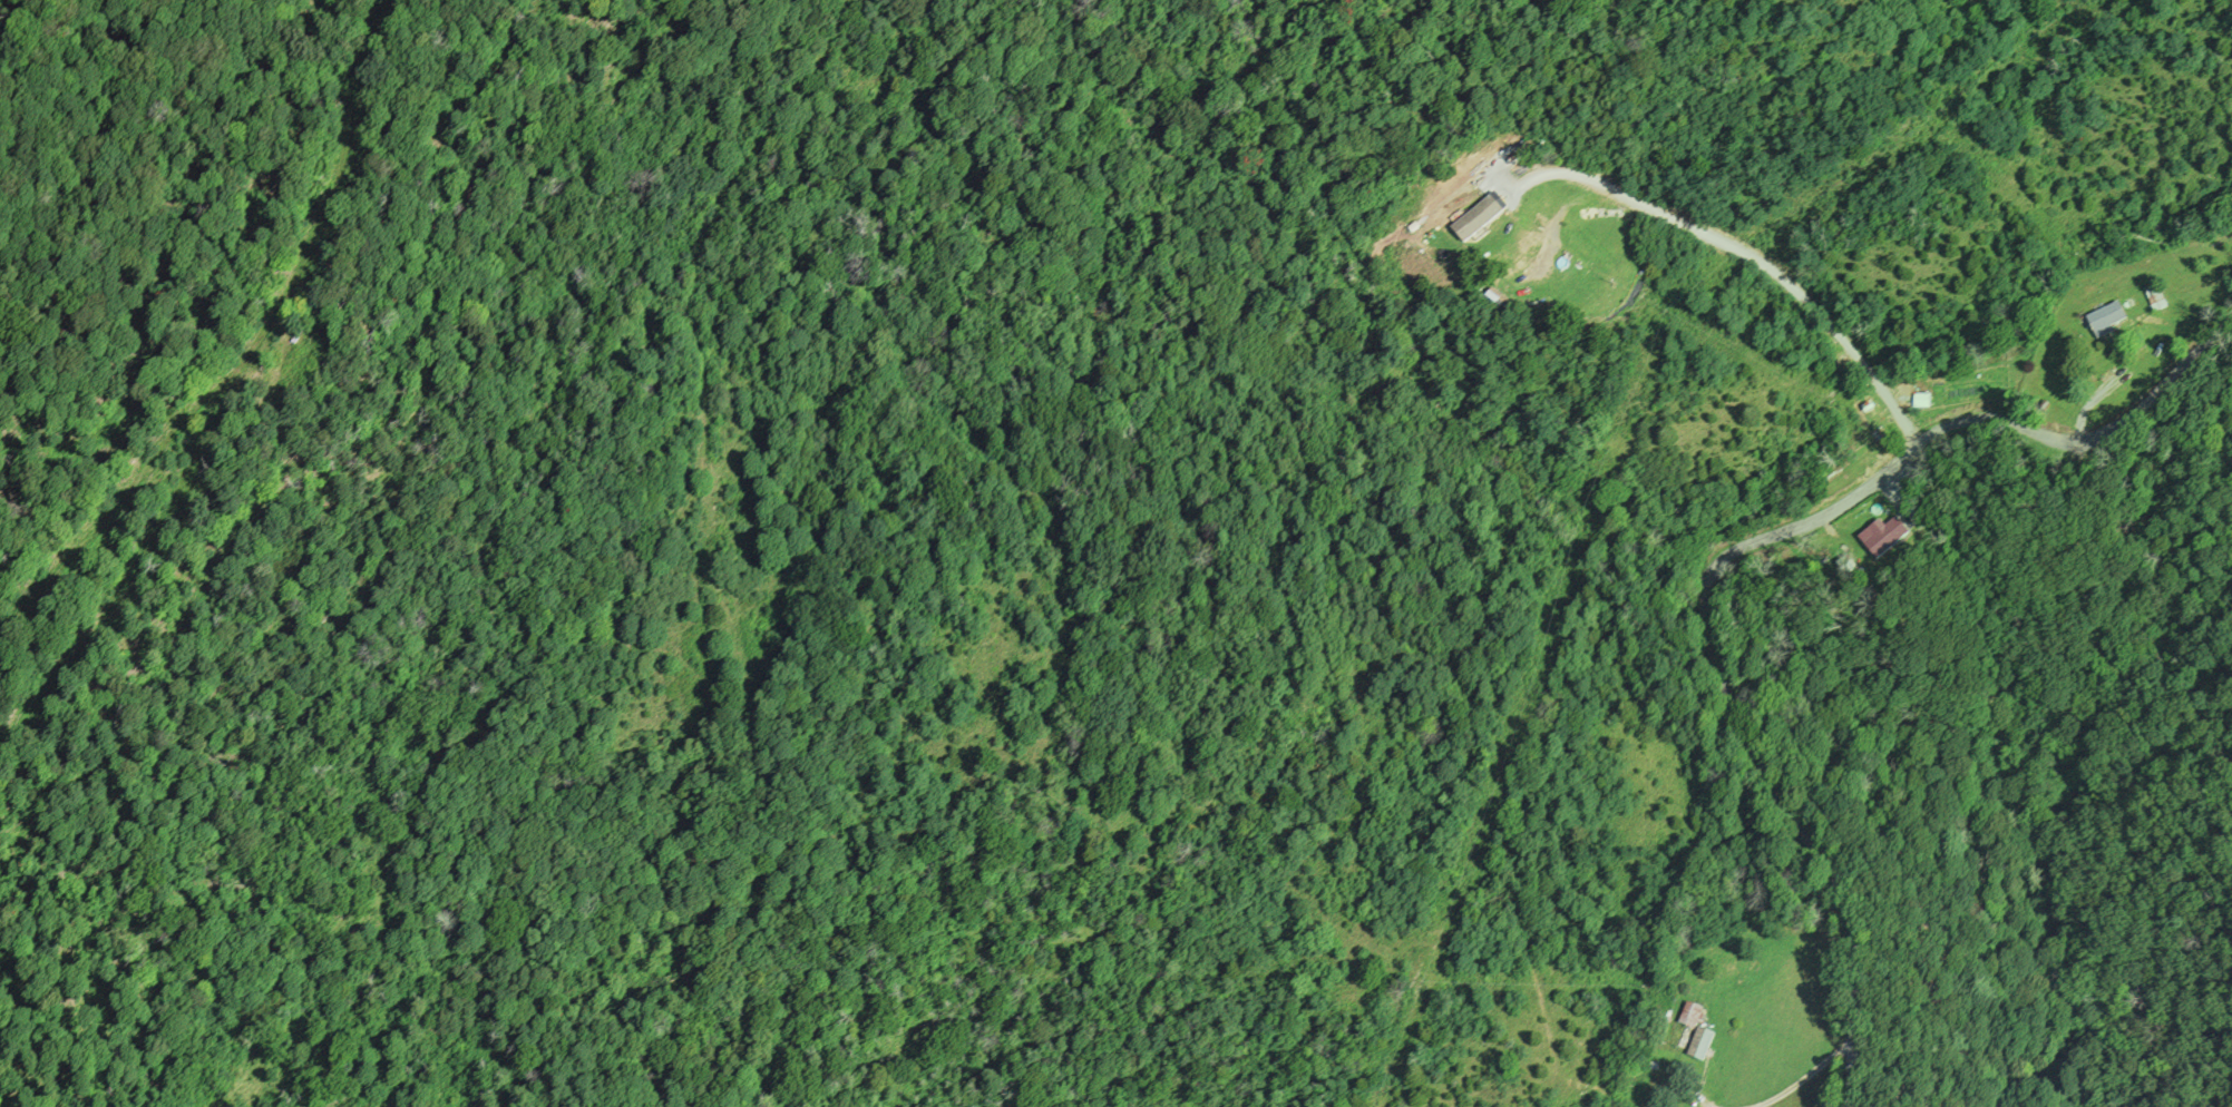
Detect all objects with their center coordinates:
building: (1473, 219)
road: (1748, 253)
building: (2154, 296)
building: (2106, 316)
road: (253, 353)
building: (1919, 400)
building: (1884, 538)
road: (1731, 550)
building: (1689, 1015)
road: (1803, 1077)
road: (1697, 1089)

